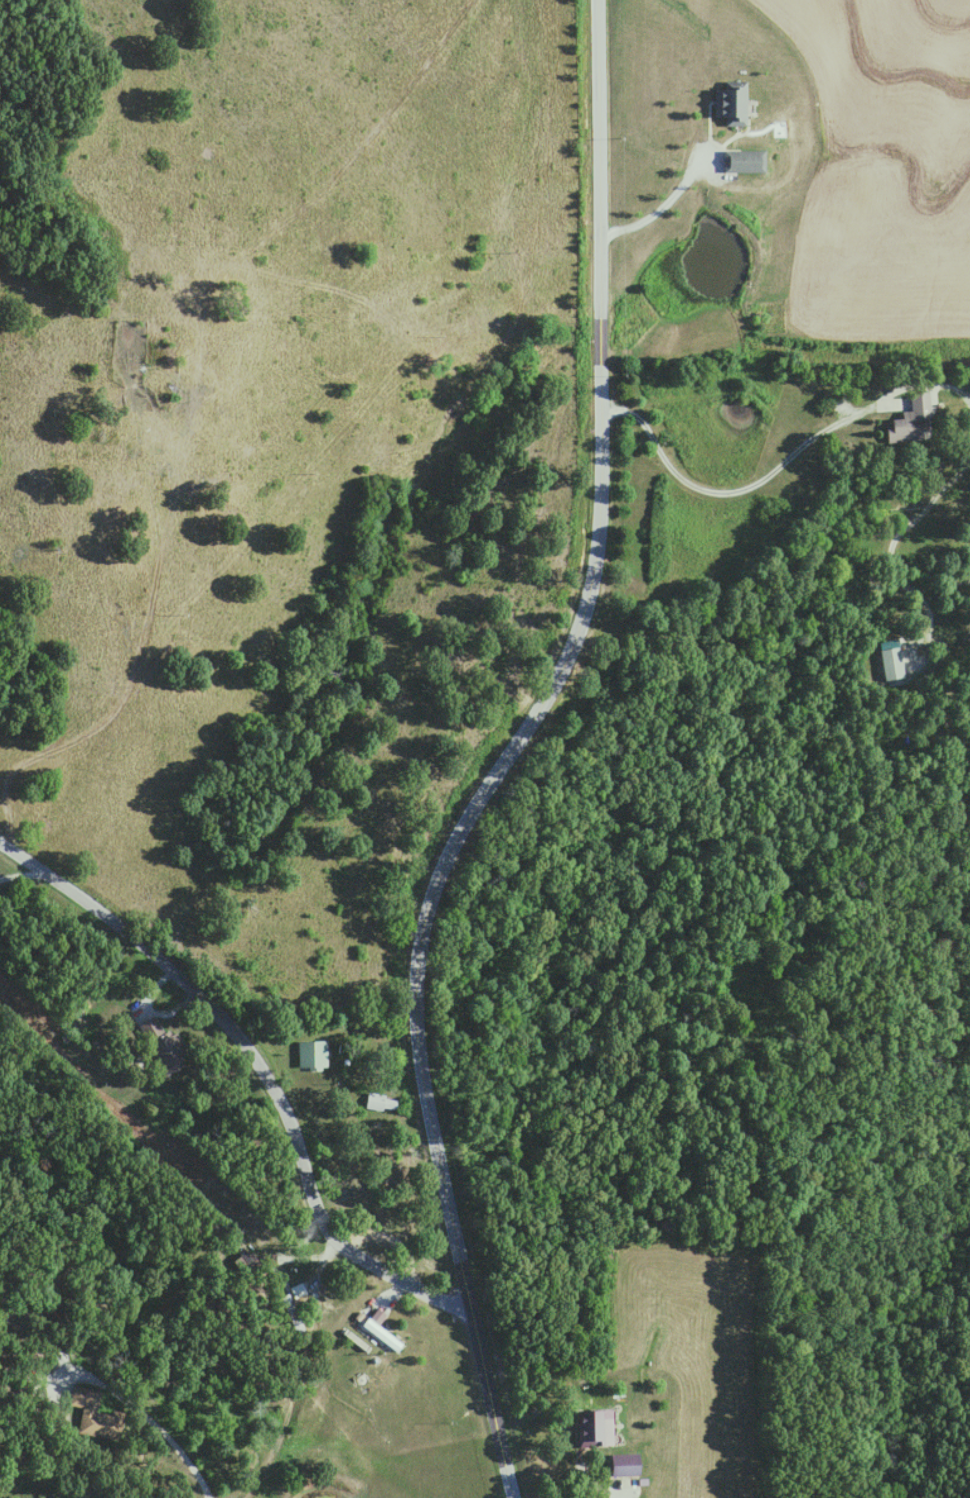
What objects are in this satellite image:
building: (729, 102)
building: (740, 161)
road: (665, 200)
building: (167, 395)
road: (899, 403)
road: (506, 756)
road: (21, 877)
road: (147, 1008)
building: (162, 1046)
building: (314, 1054)
road: (255, 1070)
building: (383, 1103)
building: (298, 1290)
building: (379, 1327)
road: (141, 1413)
building: (95, 1415)
building: (625, 1465)
road: (579, 1480)
road: (620, 1497)

